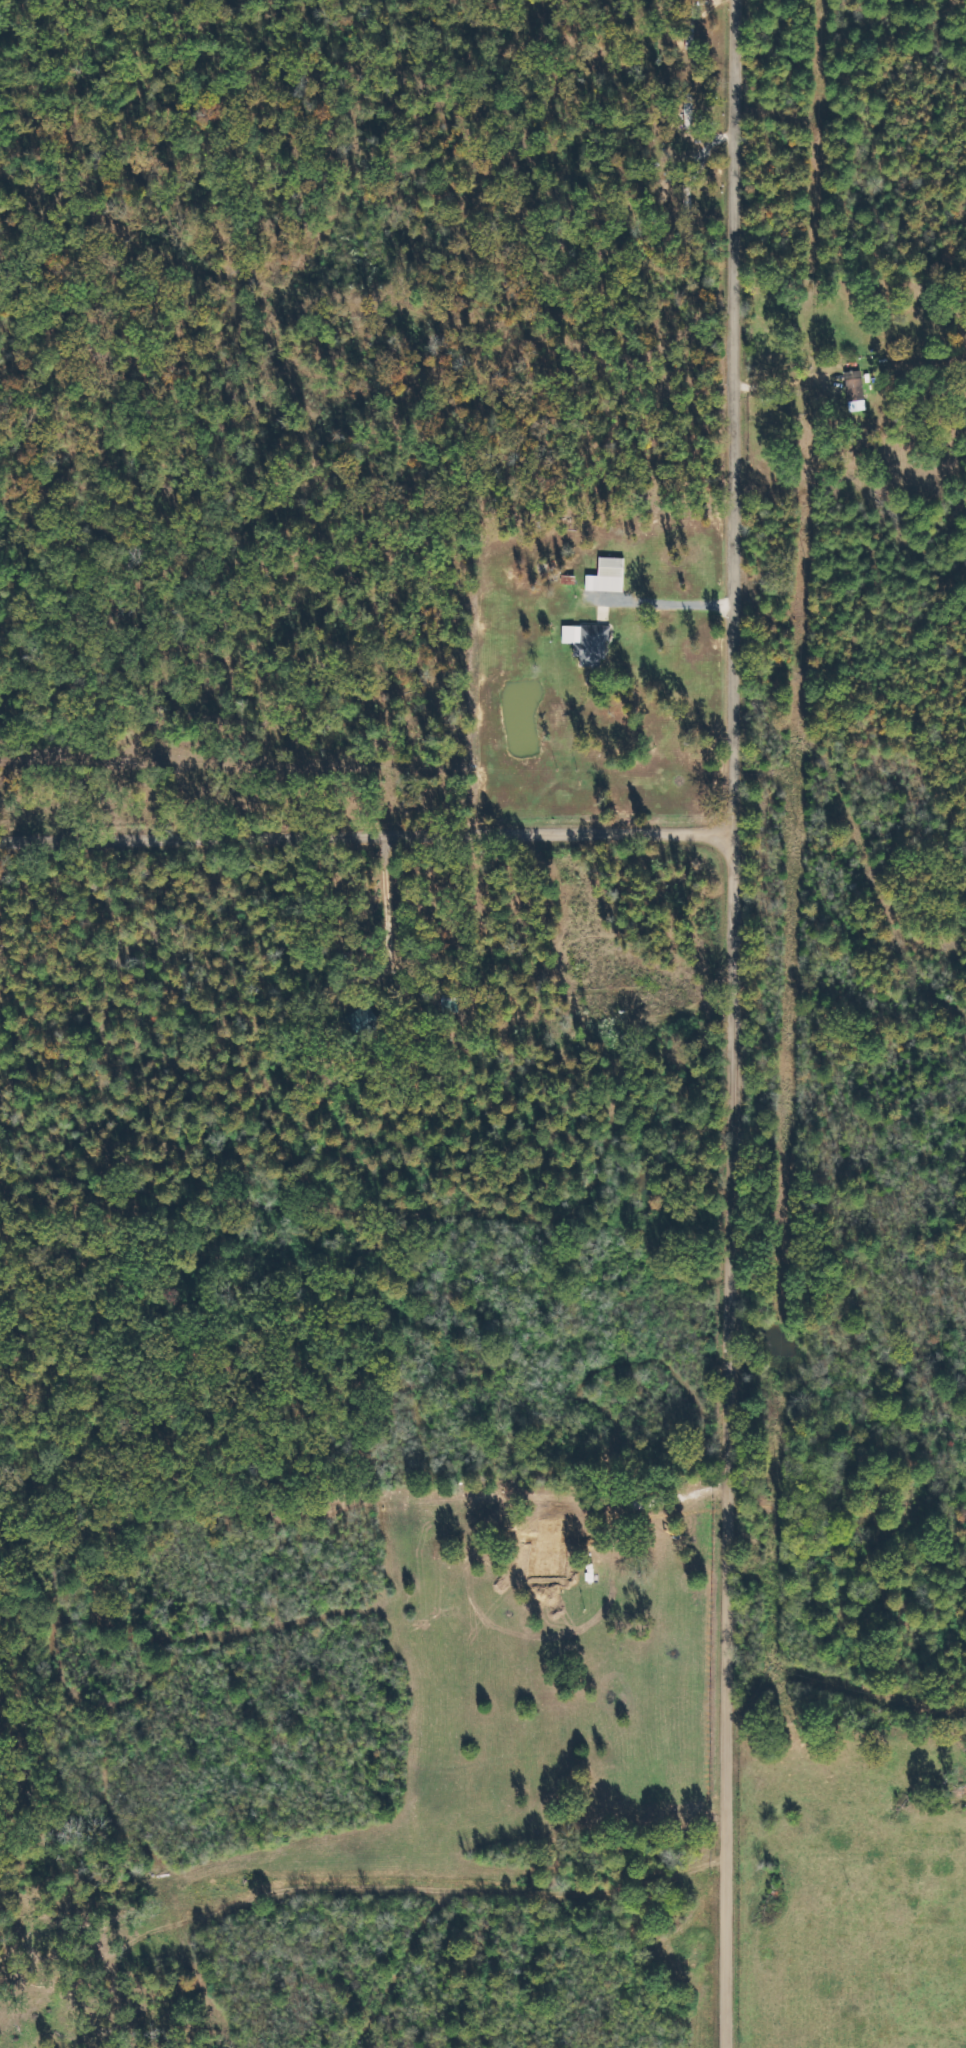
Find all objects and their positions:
building: (855, 391)
building: (605, 575)
building: (586, 642)
road: (370, 836)
road: (740, 1024)

